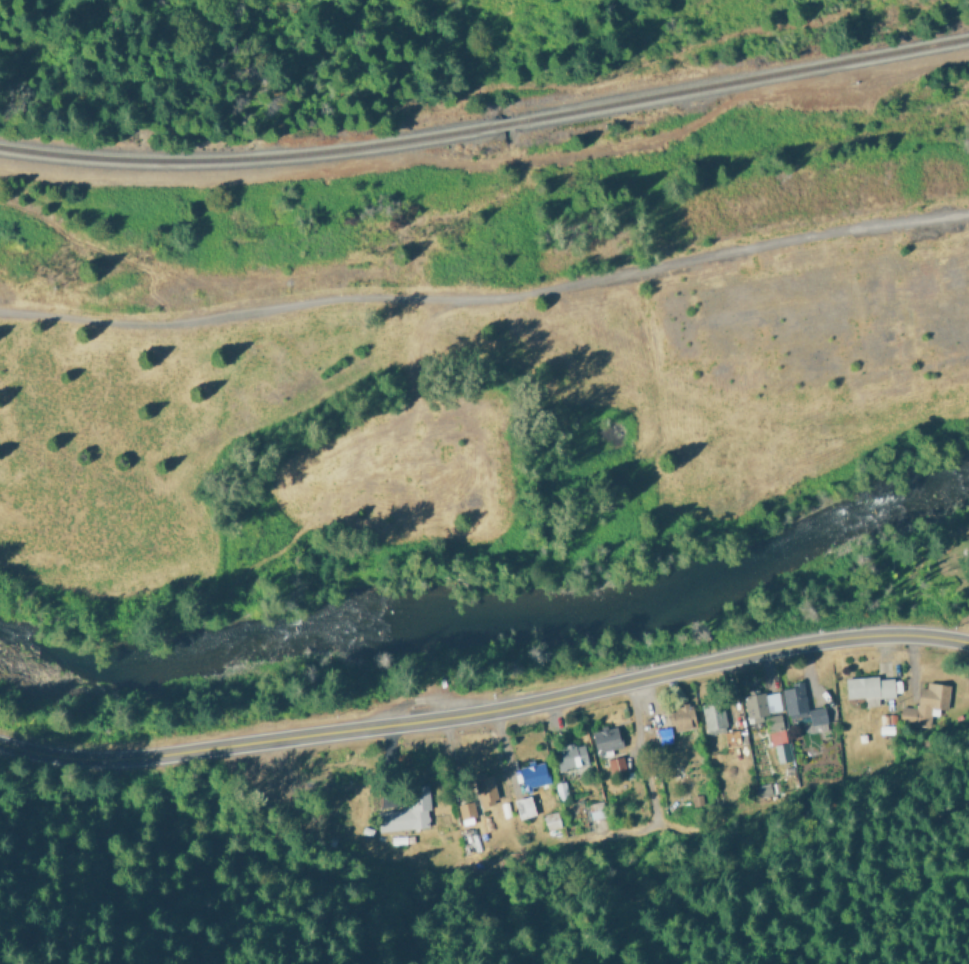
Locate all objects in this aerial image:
railway: (487, 134)
road: (487, 305)
river: (489, 614)
building: (869, 688)
building: (924, 704)
building: (799, 706)
road: (486, 711)
building: (773, 723)
building: (605, 740)
building: (572, 759)
building: (533, 774)
building: (524, 806)

